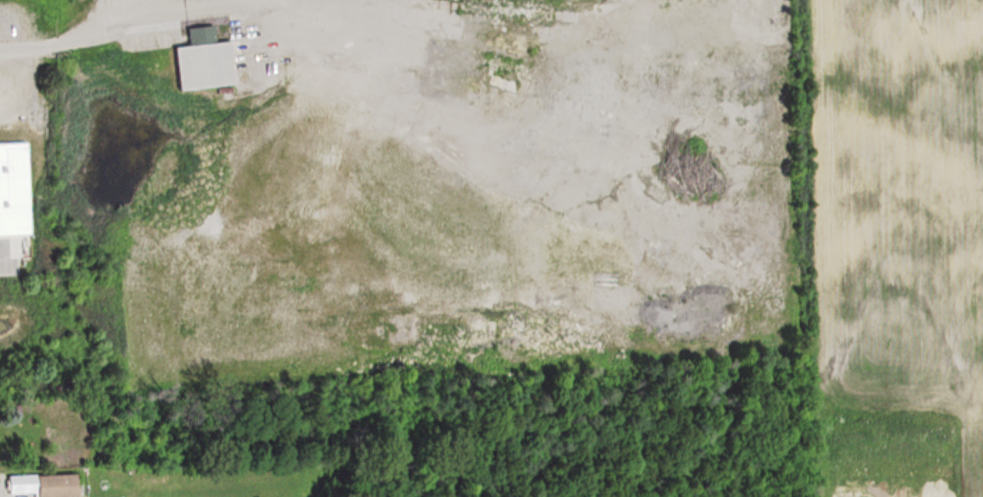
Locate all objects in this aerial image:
road: (178, 6)
building: (211, 65)
building: (21, 142)
building: (50, 484)

